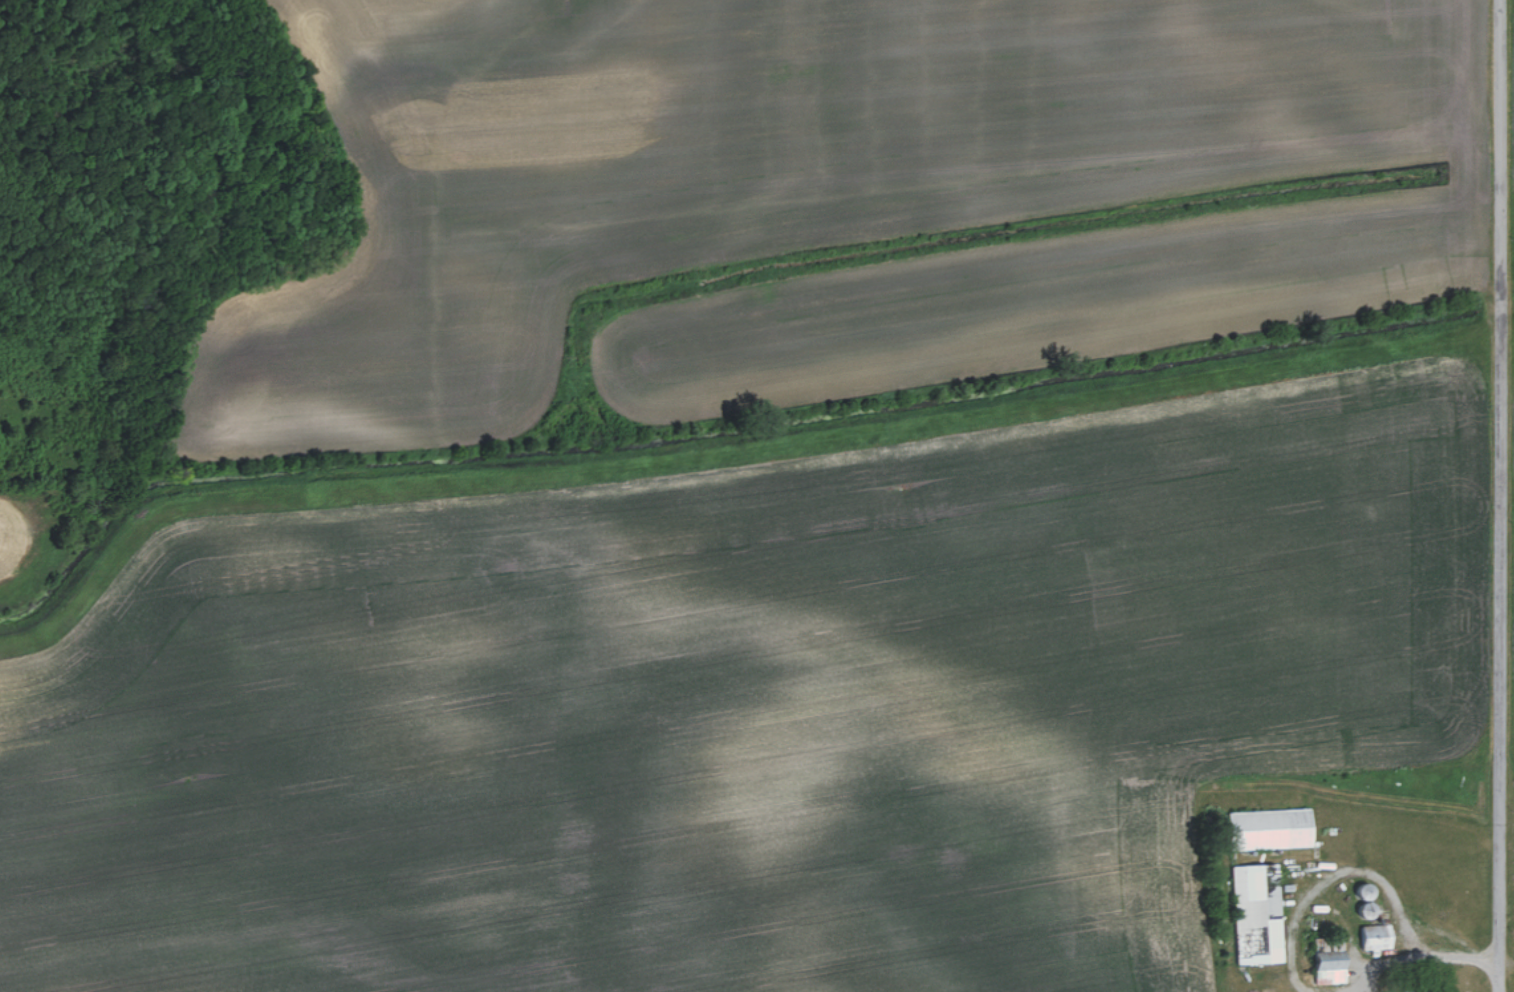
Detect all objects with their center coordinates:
road: (1502, 495)
building: (1278, 830)
road: (1328, 875)
building: (1263, 916)
building: (1381, 939)
road: (1459, 953)
road: (1380, 965)
building: (1336, 968)

